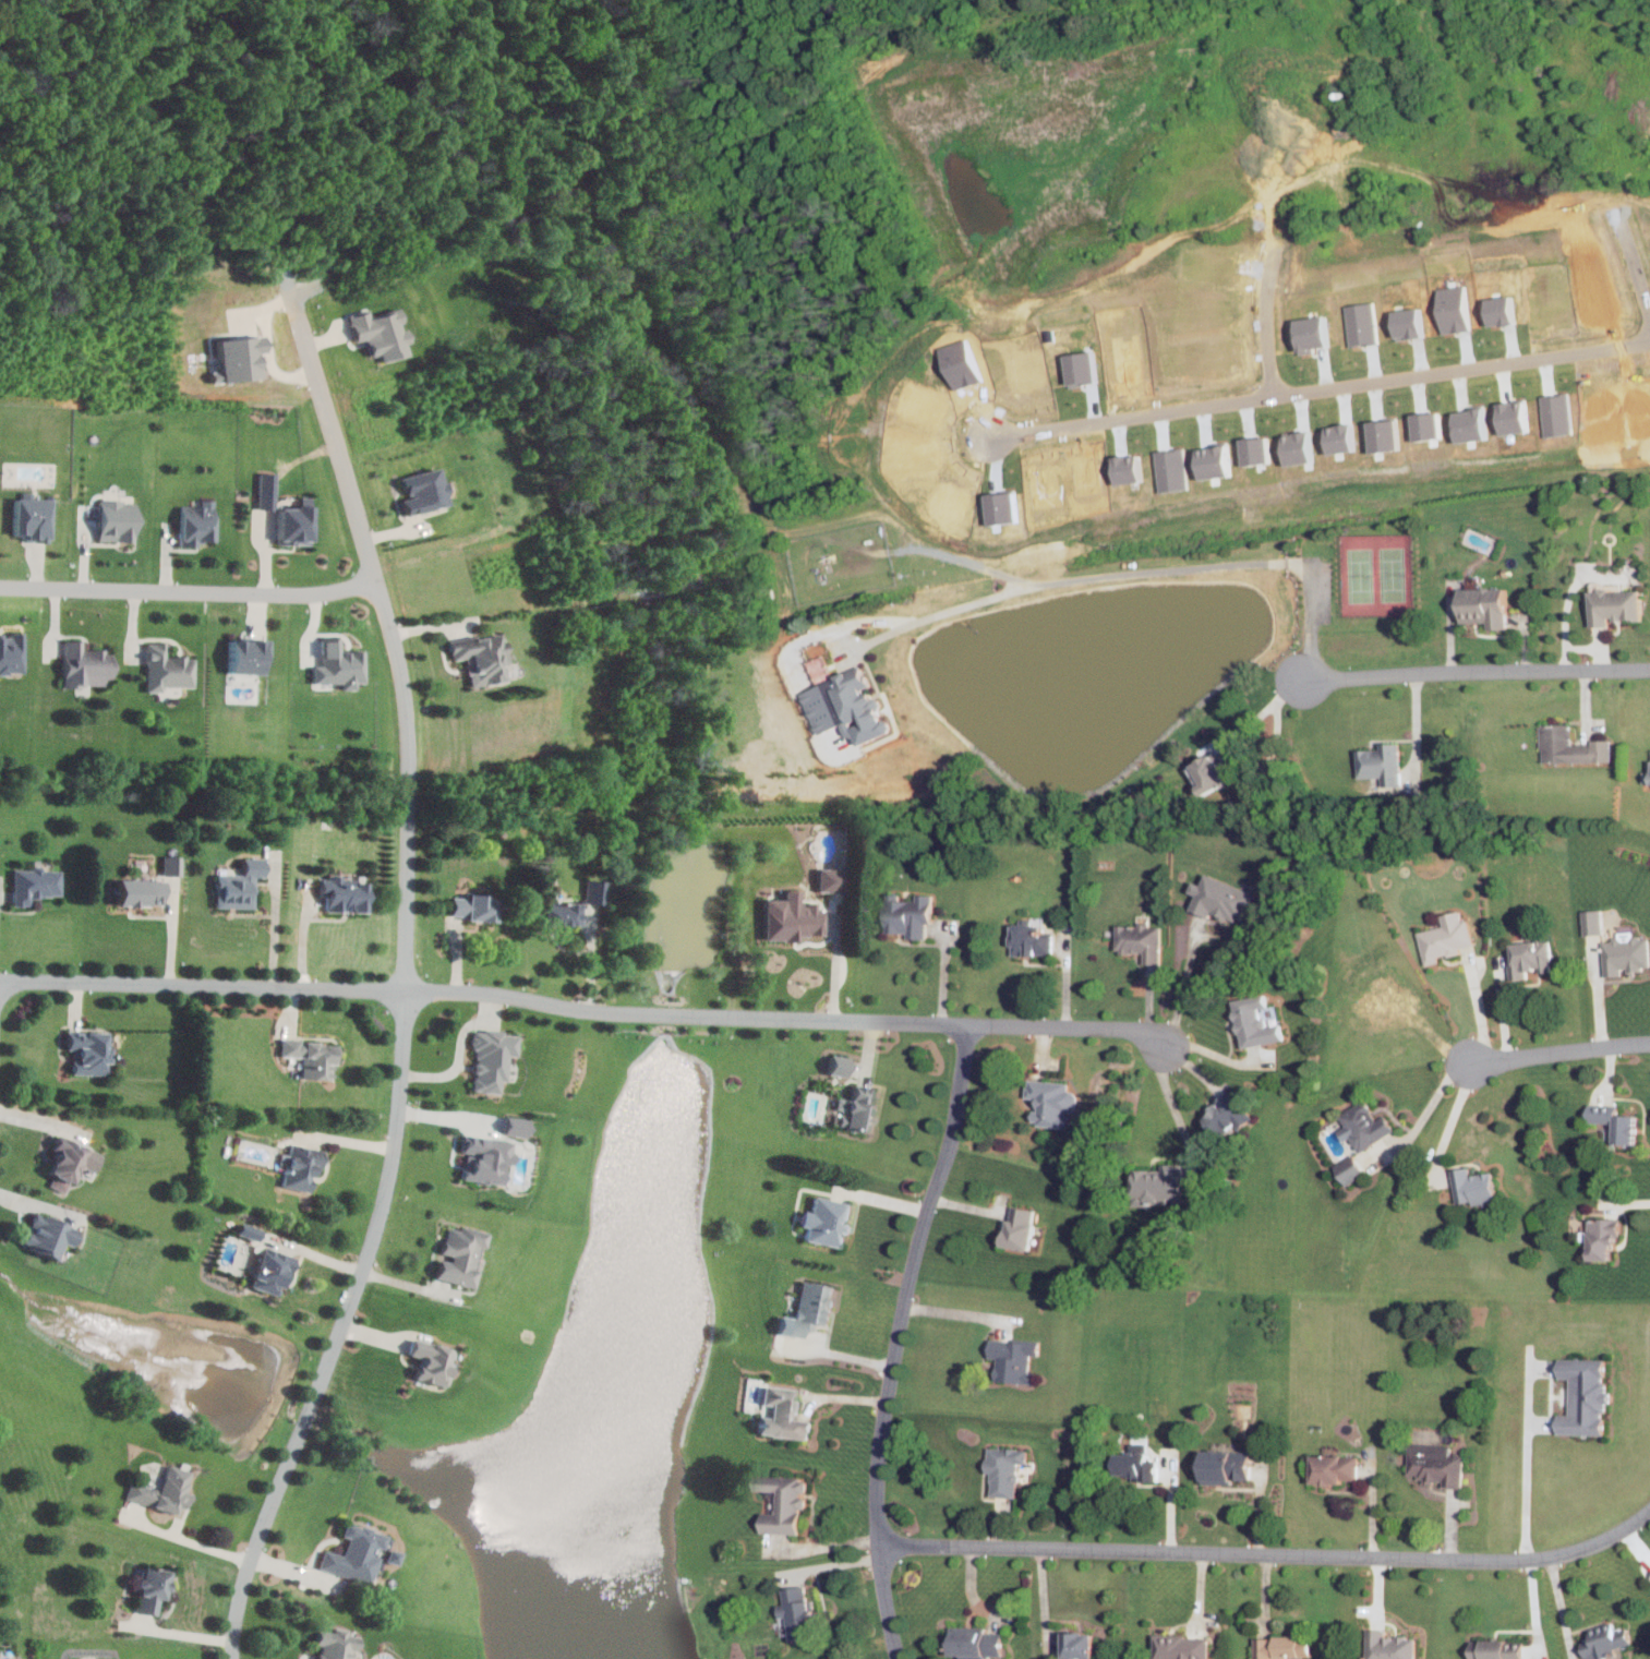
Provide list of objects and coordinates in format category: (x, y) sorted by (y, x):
road: (1626, 233)
building: (382, 333)
river: (597, 385)
road: (1321, 389)
building: (424, 491)
building: (267, 501)
building: (34, 518)
building: (118, 520)
building: (197, 522)
building: (296, 526)
road: (965, 563)
park: (1375, 572)
road: (1130, 573)
road: (191, 591)
building: (1486, 606)
building: (1617, 606)
road: (1565, 610)
road: (1592, 646)
building: (12, 652)
building: (249, 656)
building: (483, 658)
building: (85, 664)
building: (340, 665)
building: (168, 669)
road: (1476, 671)
building: (850, 706)
road: (1413, 726)
building: (1570, 746)
road: (1229, 747)
building: (1383, 765)
building: (1218, 771)
building: (1647, 778)
building: (172, 863)
building: (833, 878)
building: (35, 882)
building: (240, 883)
building: (595, 889)
building: (142, 890)
building: (345, 892)
building: (1224, 897)
river: (681, 899)
building: (564, 911)
building: (911, 913)
building: (795, 916)
building: (1594, 921)
road: (277, 930)
road: (174, 931)
road: (305, 935)
building: (1031, 936)
building: (1446, 936)
building: (1141, 939)
building: (1626, 954)
road: (592, 957)
building: (1531, 957)
road: (838, 966)
road: (1180, 985)
road: (1598, 990)
road: (406, 994)
building: (1384, 999)
road: (1478, 1007)
road: (585, 1008)
road: (1501, 1008)
river: (666, 1017)
building: (1256, 1023)
building: (91, 1050)
road: (1558, 1050)
road: (1216, 1055)
building: (313, 1056)
building: (493, 1058)
building: (841, 1065)
building: (1053, 1101)
building: (857, 1107)
road: (1169, 1107)
road: (1428, 1109)
building: (1230, 1113)
road: (451, 1116)
road: (1449, 1120)
building: (1617, 1121)
building: (1365, 1125)
building: (517, 1126)
building: (486, 1157)
building: (71, 1162)
building: (301, 1165)
building: (1351, 1167)
building: (1163, 1183)
building: (1476, 1186)
road: (1625, 1202)
road: (37, 1203)
building: (828, 1221)
building: (1023, 1227)
building: (49, 1234)
building: (1607, 1236)
building: (462, 1253)
building: (272, 1270)
building: (811, 1307)
road: (951, 1315)
road: (893, 1338)
river: (605, 1346)
building: (1015, 1358)
building: (434, 1360)
building: (1587, 1395)
building: (784, 1412)
road: (1523, 1453)
building: (1437, 1463)
building: (1137, 1465)
building: (1228, 1465)
building: (1337, 1467)
building: (1005, 1468)
building: (164, 1490)
building: (785, 1502)
road: (200, 1542)
road: (822, 1547)
road: (1270, 1552)
building: (361, 1553)
building: (153, 1587)
road: (1044, 1599)
road: (1561, 1608)
building: (799, 1611)
building: (1609, 1639)
building: (337, 1643)
building: (976, 1644)
building: (1082, 1644)
building: (1392, 1645)
building: (1182, 1646)
building: (1284, 1646)
building: (1498, 1649)

